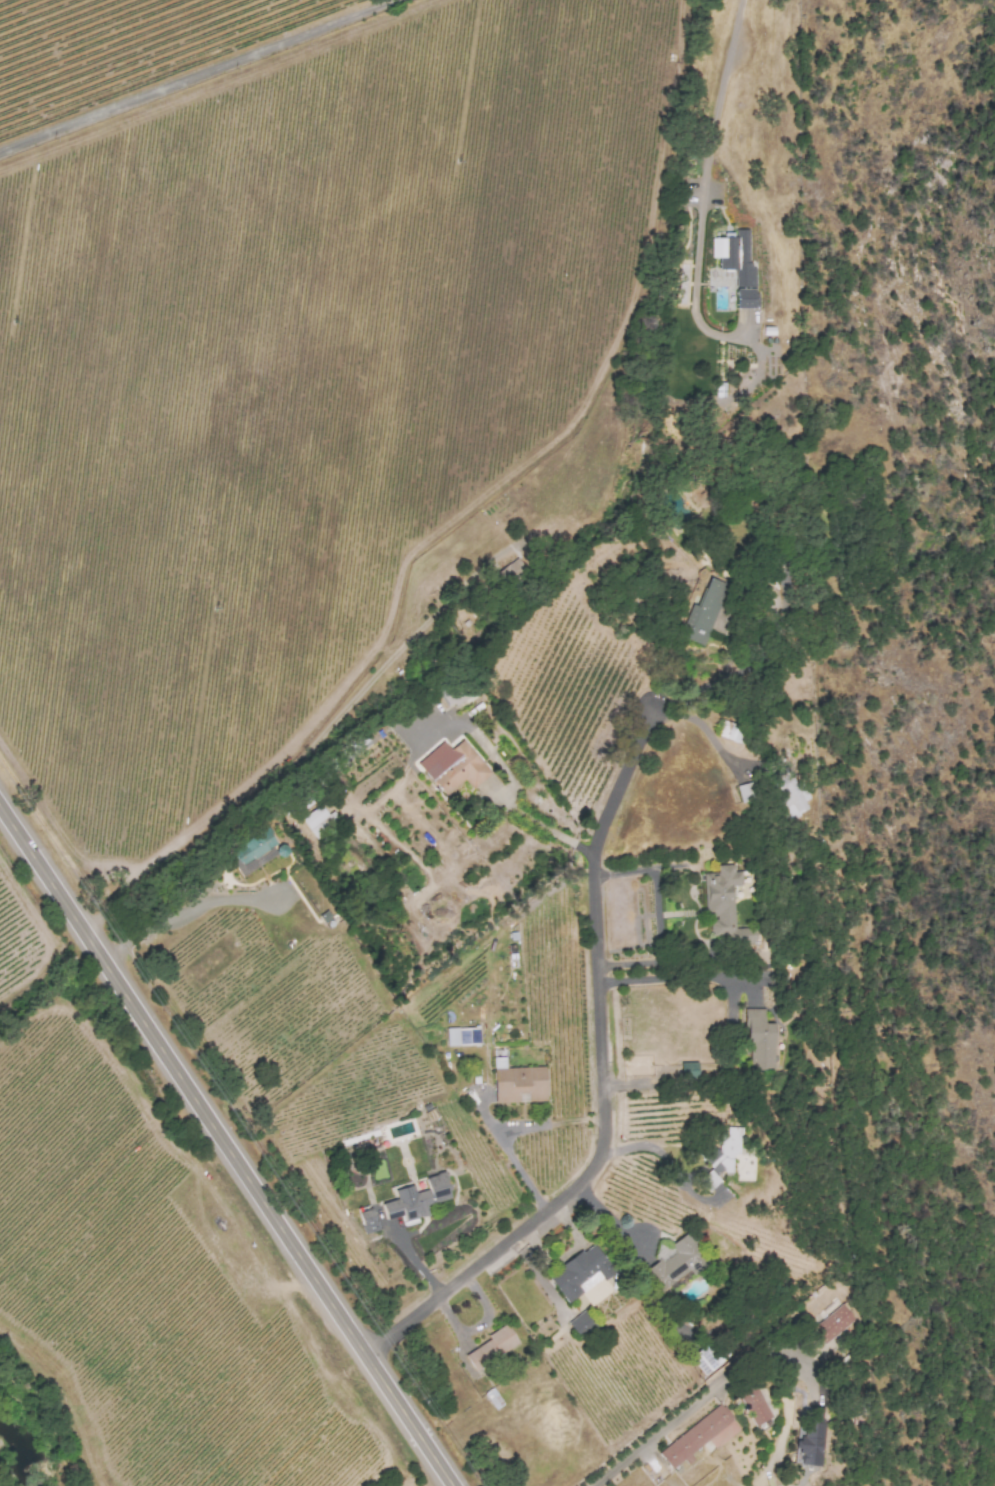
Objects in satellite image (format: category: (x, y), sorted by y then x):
road: (196, 73)
road: (702, 189)
building: (736, 264)
building: (509, 574)
building: (703, 613)
building: (454, 689)
road: (706, 732)
building: (730, 732)
building: (452, 767)
building: (787, 792)
building: (319, 821)
road: (541, 826)
building: (253, 846)
building: (281, 850)
building: (724, 905)
road: (186, 909)
road: (677, 977)
building: (462, 1036)
building: (759, 1041)
building: (688, 1070)
road: (602, 1074)
building: (517, 1083)
road: (225, 1146)
road: (655, 1148)
building: (729, 1148)
road: (513, 1160)
building: (416, 1198)
building: (366, 1219)
building: (673, 1263)
building: (577, 1272)
building: (832, 1323)
building: (580, 1324)
building: (492, 1347)
building: (705, 1359)
road: (739, 1371)
building: (754, 1405)
building: (699, 1436)
building: (811, 1438)
river: (20, 1465)

